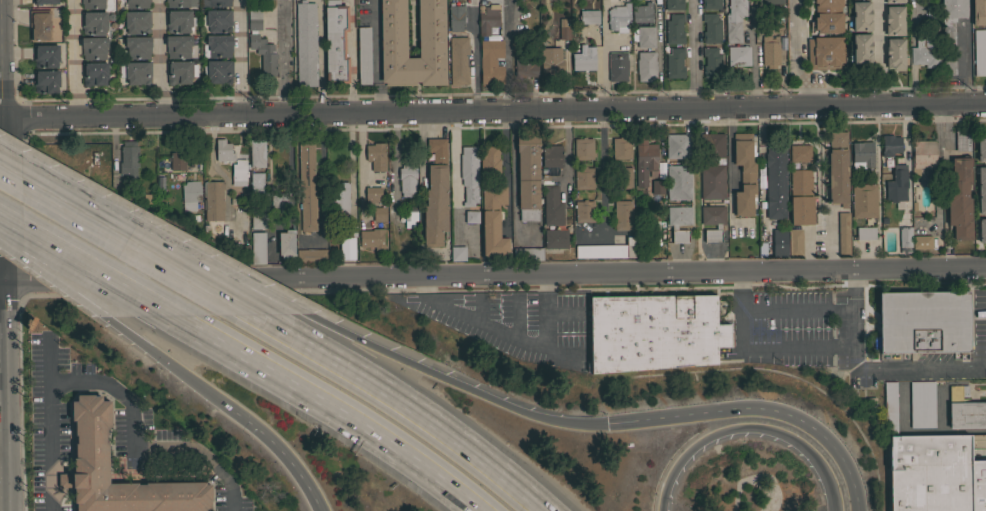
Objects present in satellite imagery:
building: (44, 1)
building: (772, 1)
building: (894, 1)
building: (137, 3)
building: (181, 3)
building: (215, 3)
building: (92, 4)
building: (711, 4)
building: (674, 5)
building: (932, 10)
building: (978, 12)
building: (641, 13)
building: (529, 14)
building: (588, 15)
building: (828, 16)
building: (861, 16)
building: (455, 17)
building: (618, 17)
building: (488, 19)
building: (216, 20)
building: (734, 20)
building: (894, 20)
building: (136, 21)
building: (178, 21)
building: (94, 22)
building: (39, 25)
building: (431, 28)
building: (563, 28)
building: (710, 28)
building: (674, 29)
building: (950, 31)
building: (645, 36)
building: (335, 42)
building: (261, 43)
building: (305, 43)
building: (179, 46)
building: (217, 46)
building: (93, 47)
building: (137, 47)
building: (861, 48)
building: (769, 51)
building: (924, 51)
road: (793, 52)
building: (824, 52)
road: (880, 52)
building: (979, 52)
building: (894, 53)
road: (692, 54)
building: (45, 55)
building: (363, 55)
building: (738, 55)
road: (375, 56)
road: (507, 56)
road: (909, 56)
road: (319, 57)
road: (74, 58)
road: (160, 58)
road: (239, 58)
building: (584, 58)
building: (551, 59)
road: (283, 60)
building: (458, 60)
building: (491, 61)
building: (711, 62)
building: (674, 63)
road: (965, 64)
building: (525, 65)
road: (475, 66)
building: (617, 66)
building: (645, 66)
road: (601, 68)
building: (180, 71)
building: (217, 71)
building: (94, 73)
building: (137, 73)
building: (46, 81)
road: (493, 111)
building: (962, 140)
building: (890, 145)
building: (677, 146)
building: (981, 147)
building: (583, 148)
building: (621, 148)
road: (566, 150)
building: (224, 151)
building: (256, 153)
building: (799, 153)
building: (861, 154)
building: (922, 155)
building: (375, 156)
building: (551, 158)
building: (128, 159)
building: (644, 159)
building: (177, 160)
building: (489, 160)
road: (939, 163)
building: (277, 164)
road: (729, 164)
road: (350, 165)
road: (210, 168)
building: (712, 168)
building: (837, 168)
road: (602, 171)
building: (238, 173)
road: (509, 173)
building: (744, 174)
road: (322, 176)
building: (527, 177)
building: (621, 177)
building: (583, 178)
building: (407, 179)
road: (453, 179)
road: (761, 179)
building: (469, 181)
building: (678, 181)
building: (775, 181)
building: (256, 184)
building: (896, 184)
building: (306, 185)
building: (656, 186)
road: (46, 189)
building: (981, 189)
building: (373, 194)
building: (435, 194)
building: (190, 195)
building: (800, 197)
building: (959, 198)
building: (340, 199)
building: (213, 200)
building: (864, 200)
building: (279, 203)
building: (551, 207)
building: (584, 211)
building: (379, 213)
building: (623, 215)
building: (712, 215)
building: (409, 216)
building: (258, 219)
building: (492, 221)
building: (678, 222)
building: (982, 230)
building: (843, 233)
building: (865, 233)
building: (712, 235)
building: (371, 238)
building: (555, 238)
building: (905, 240)
building: (779, 242)
building: (794, 242)
building: (921, 242)
building: (286, 243)
building: (258, 248)
building: (342, 249)
building: (606, 250)
building: (457, 253)
building: (527, 253)
road: (4, 255)
building: (310, 255)
road: (84, 262)
road: (202, 263)
road: (180, 268)
road: (495, 273)
road: (2, 277)
road: (59, 283)
road: (853, 308)
road: (797, 309)
road: (481, 311)
road: (567, 313)
road: (872, 314)
road: (548, 316)
road: (519, 321)
road: (477, 322)
building: (921, 322)
parking lot: (518, 324)
road: (874, 325)
building: (653, 332)
parking lot: (837, 339)
road: (867, 347)
road: (757, 349)
road: (567, 359)
road: (169, 363)
road: (909, 367)
road: (453, 381)
road: (119, 394)
building: (921, 404)
road: (329, 405)
road: (759, 407)
building: (890, 407)
road: (409, 409)
building: (965, 409)
traffic signals: (606, 423)
road: (699, 442)
road: (4, 443)
road: (801, 446)
road: (279, 449)
building: (80, 452)
building: (935, 474)
road: (831, 488)

